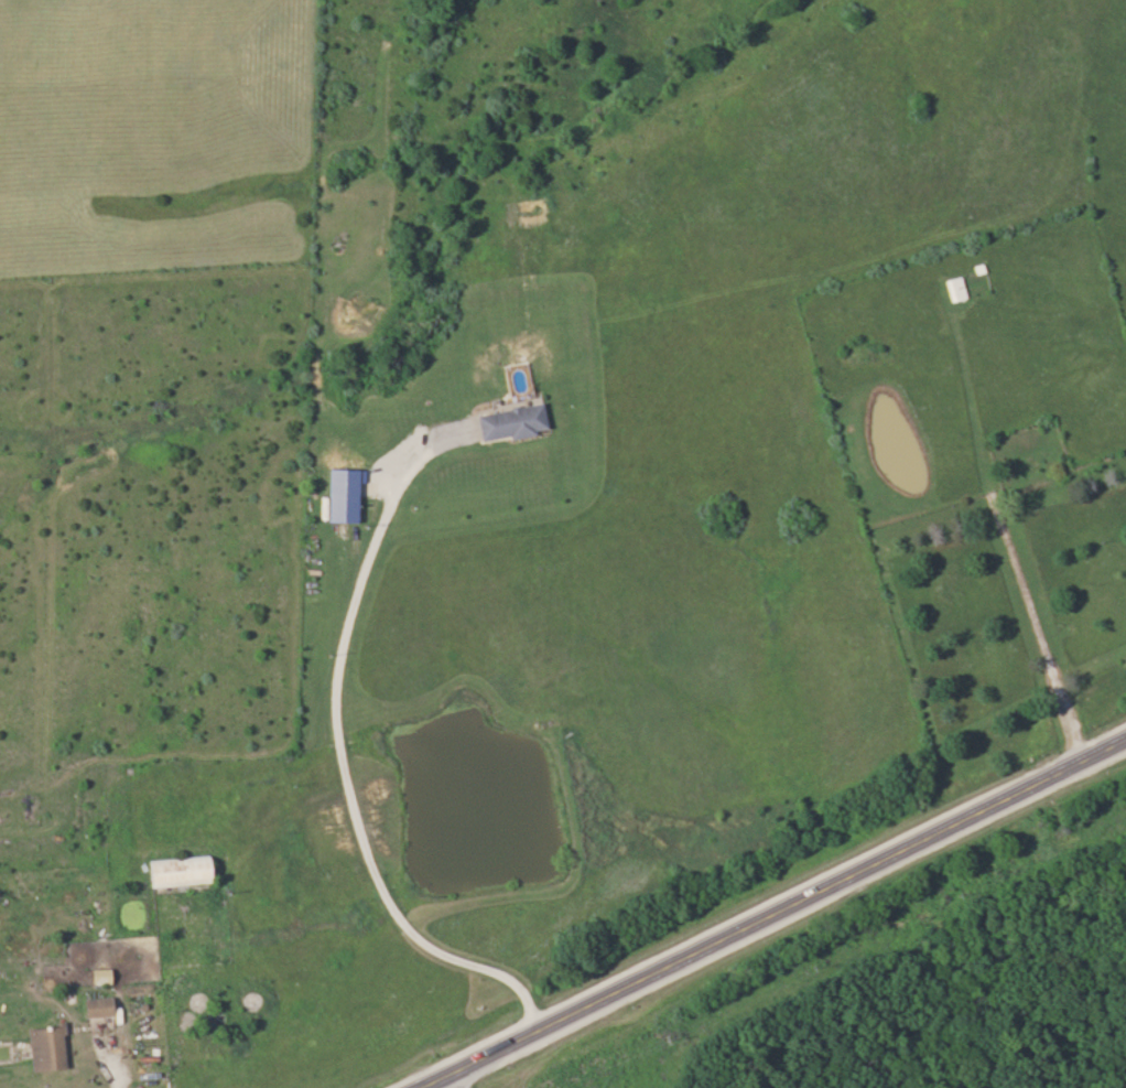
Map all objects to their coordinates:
building: (953, 290)
building: (507, 422)
building: (909, 481)
road: (340, 779)
building: (173, 872)
road: (772, 912)
building: (97, 976)
building: (96, 1006)
building: (43, 1047)
road: (108, 1075)
road: (445, 1082)

